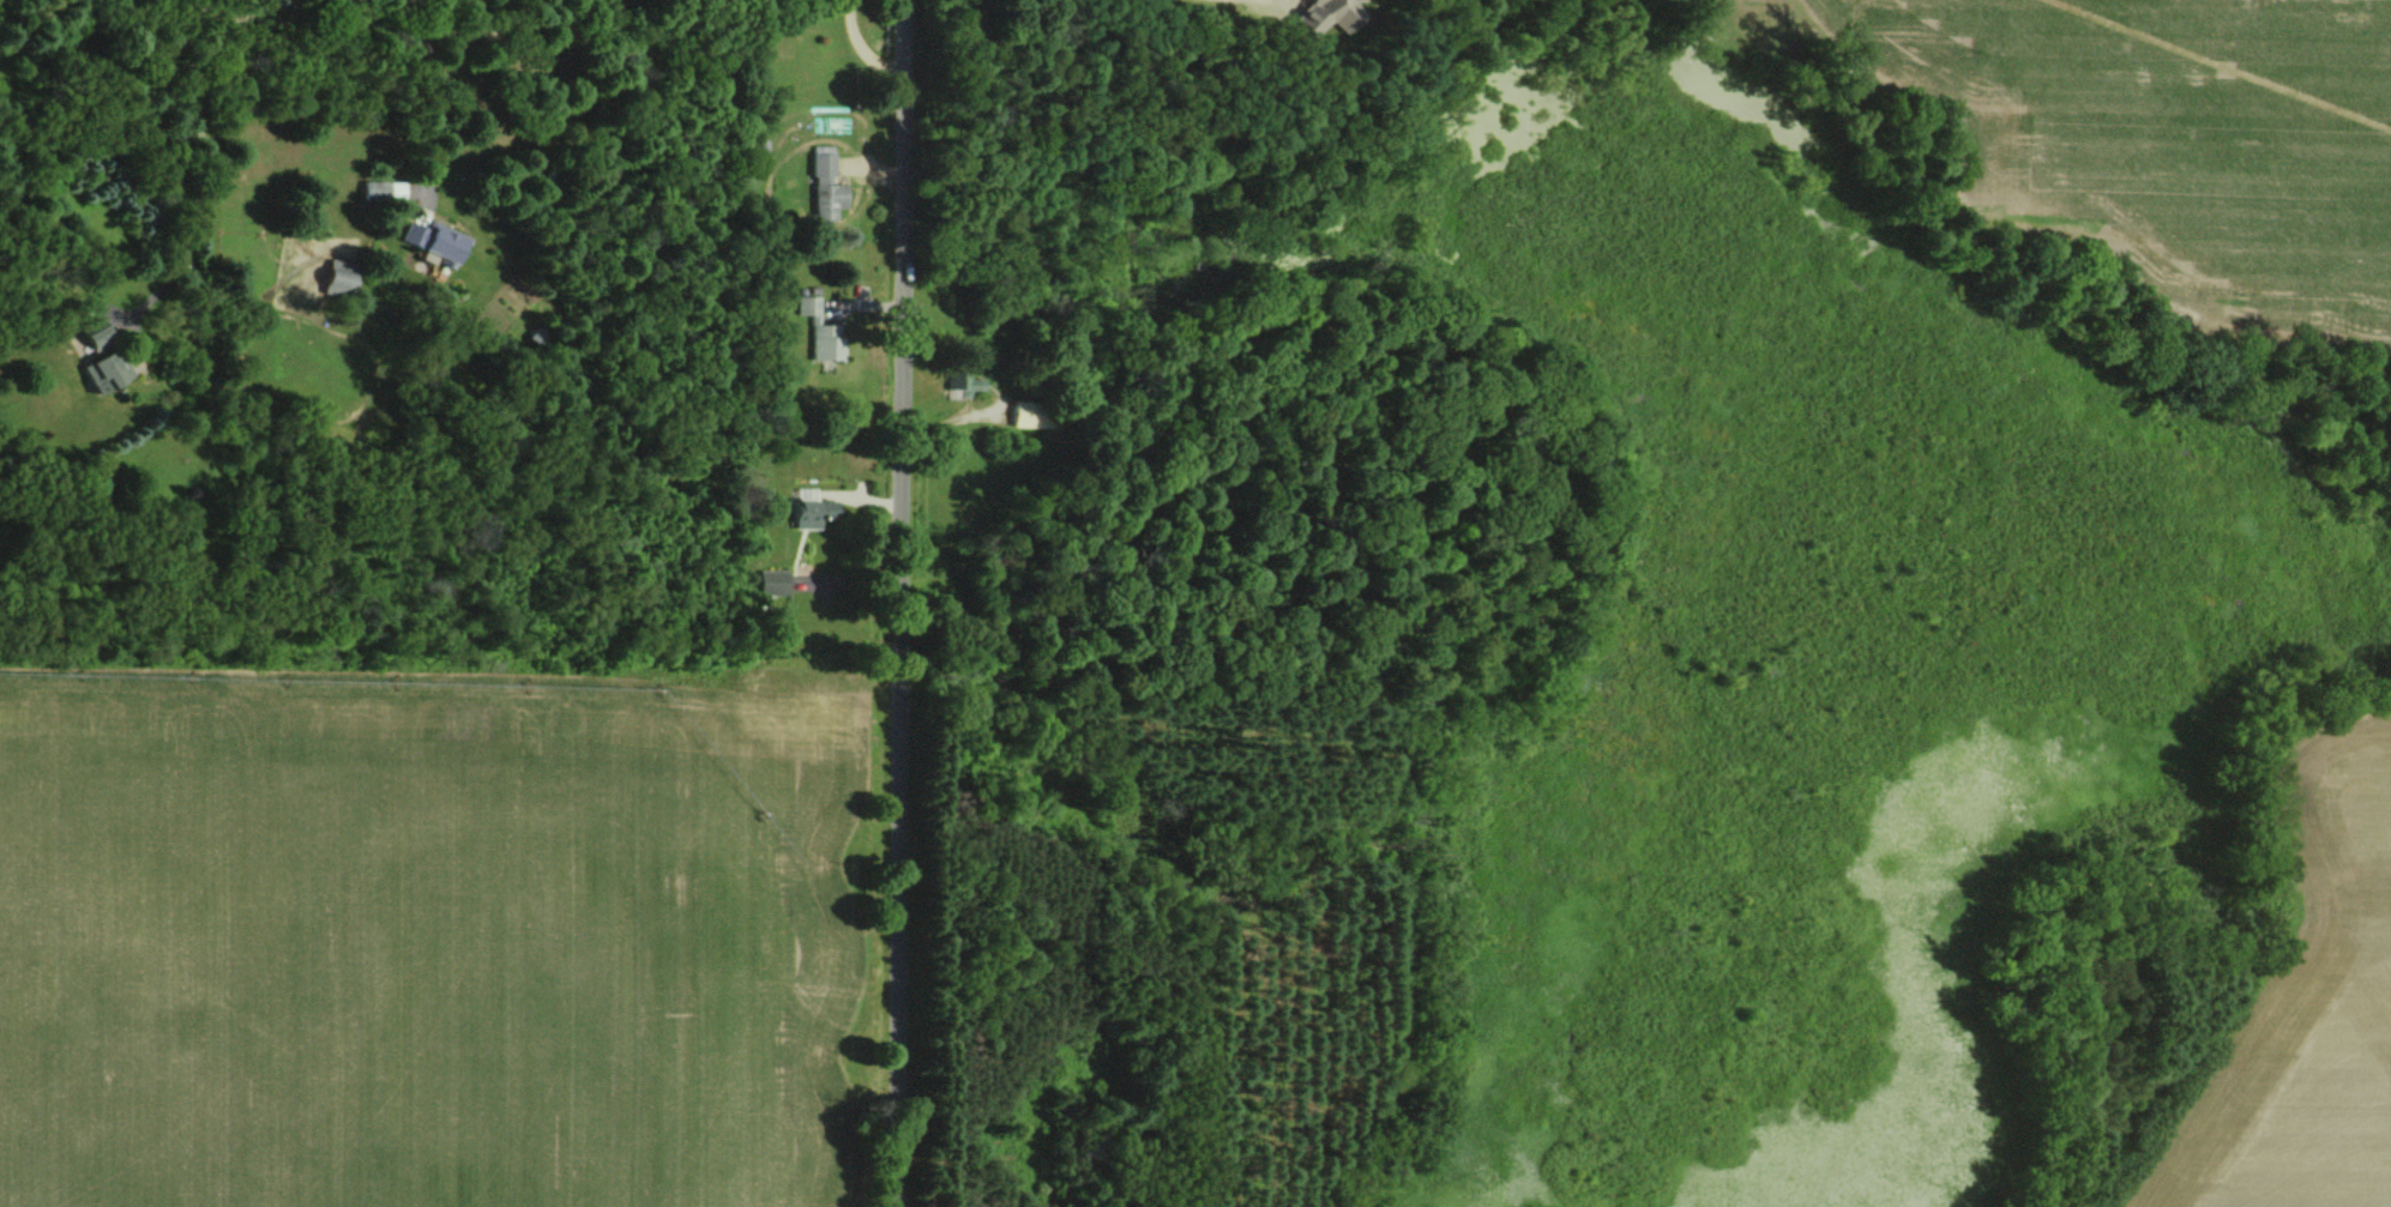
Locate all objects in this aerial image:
building: (1318, 14)
road: (421, 23)
road: (862, 43)
road: (421, 113)
road: (205, 161)
building: (379, 189)
building: (429, 241)
building: (330, 277)
building: (814, 328)
building: (86, 338)
building: (98, 368)
building: (1020, 414)
building: (803, 512)
building: (769, 583)
road: (895, 603)

